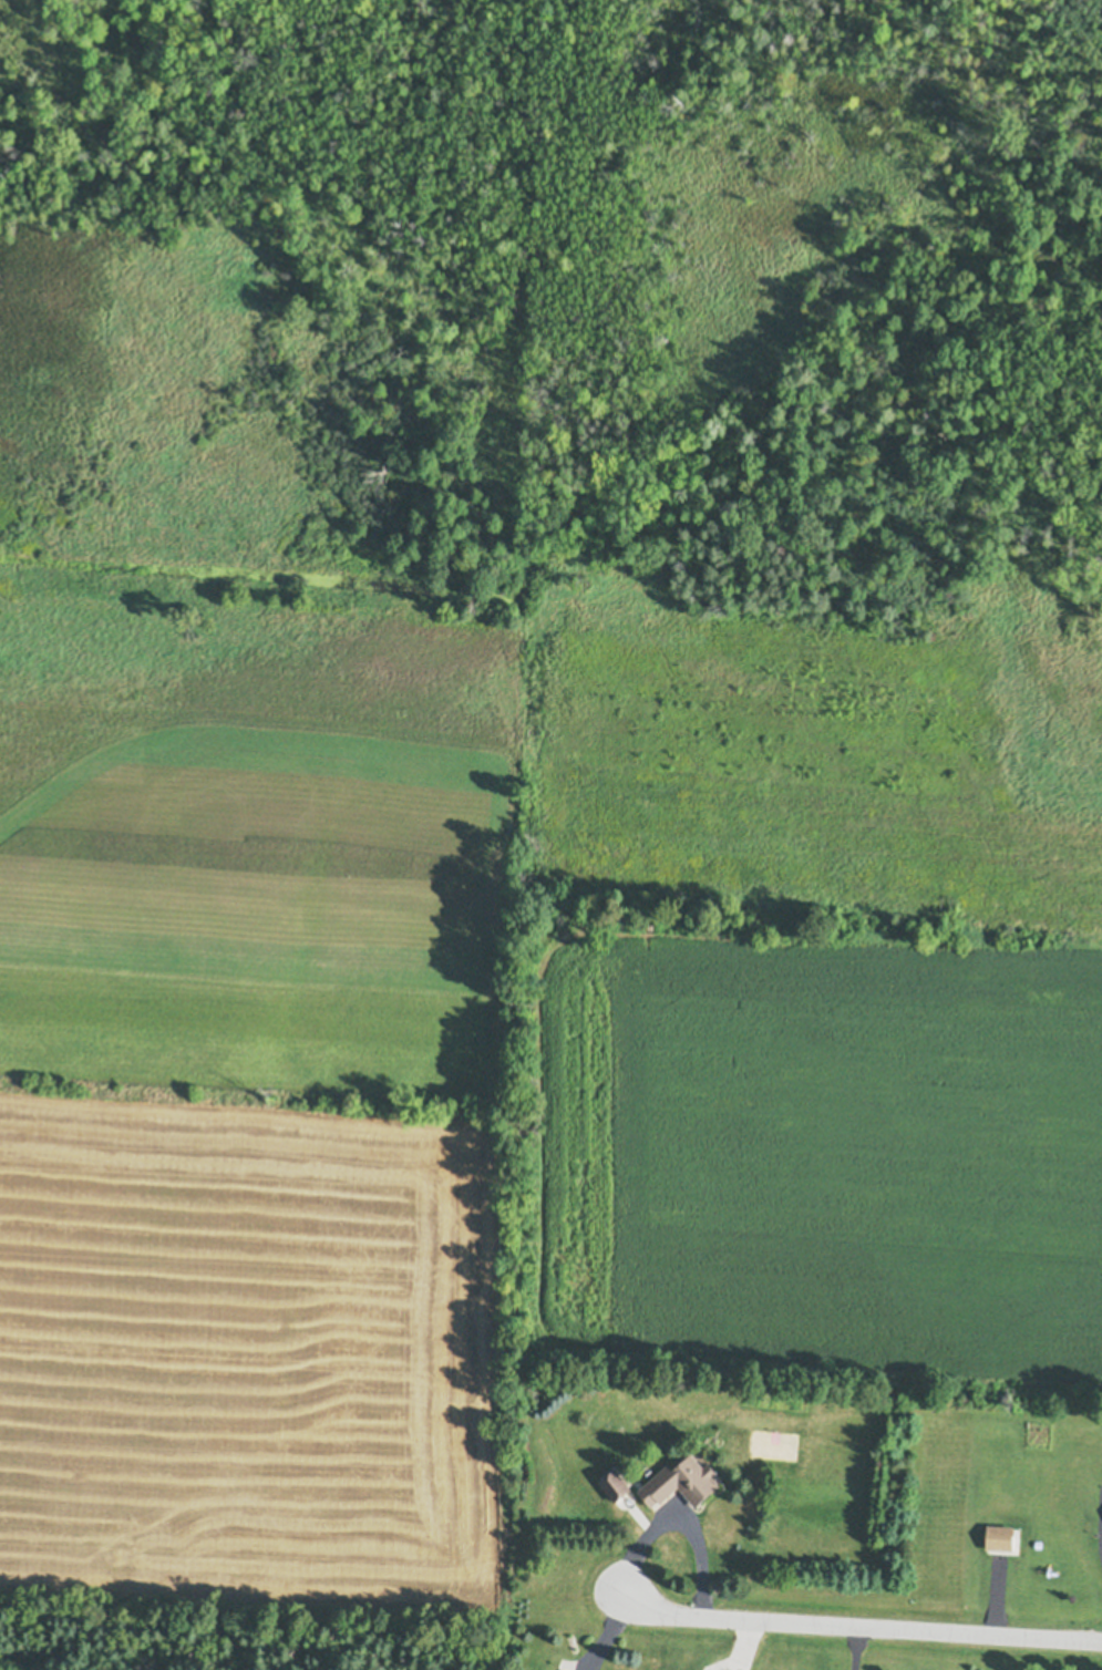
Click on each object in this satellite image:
crop: (256, 1091)
building: (680, 1476)
building: (615, 1481)
road: (950, 1515)
building: (998, 1534)
road: (862, 1627)

